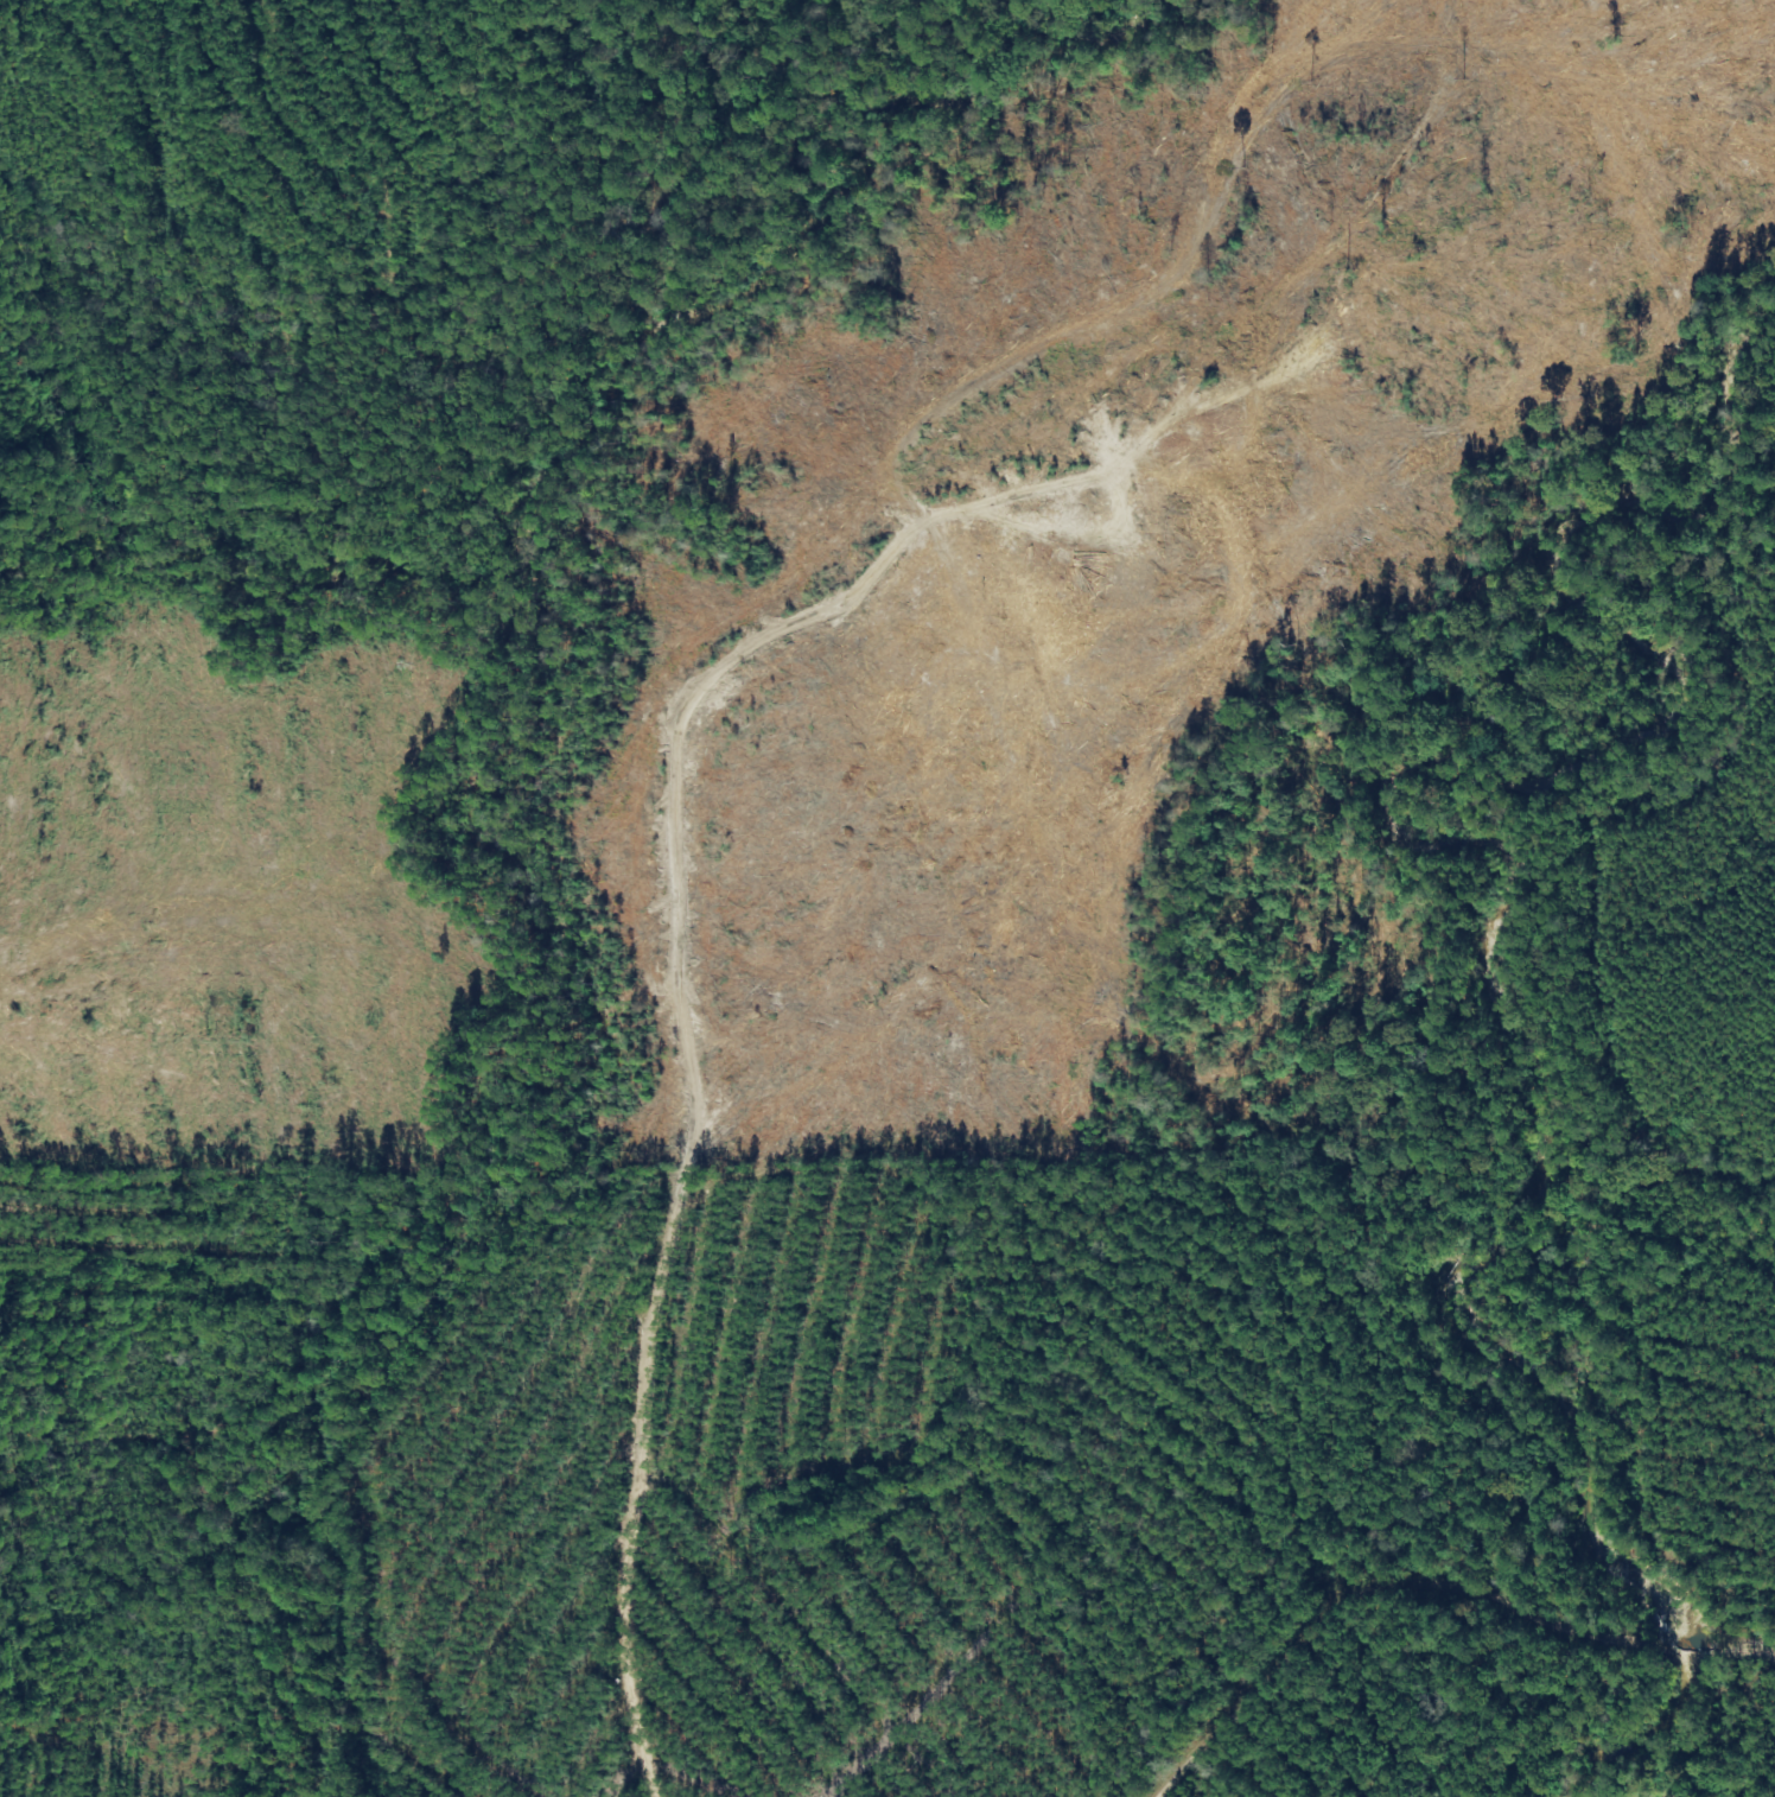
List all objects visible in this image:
road: (1411, 1630)

